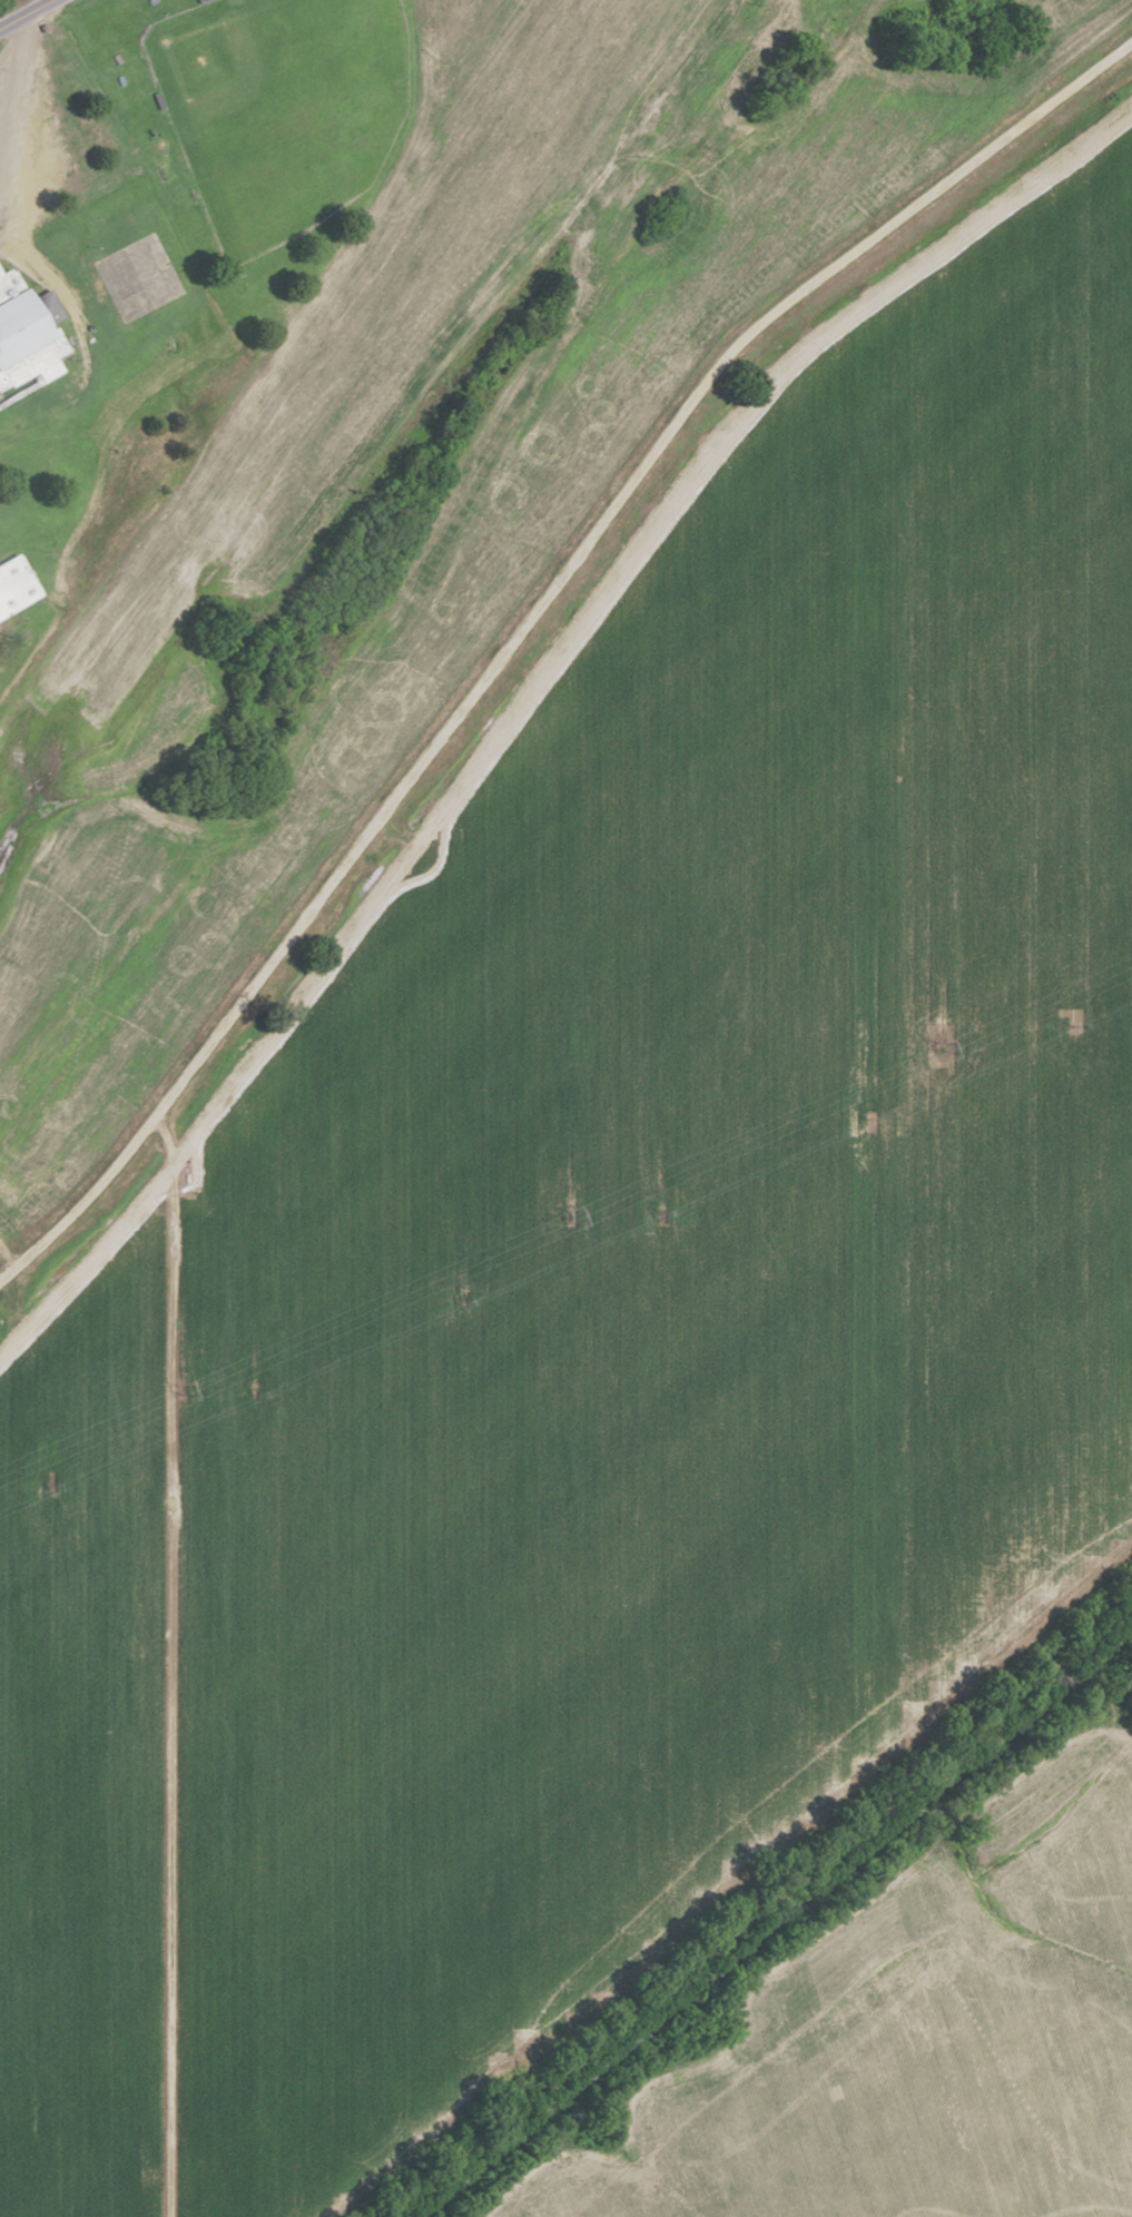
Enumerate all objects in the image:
road: (24, 13)
road: (8, 79)
parking lot: (3, 95)
road: (11, 101)
park: (278, 108)
road: (705, 158)
road: (26, 273)
building: (27, 332)
road: (18, 392)
road: (595, 529)
building: (14, 584)
road: (83, 1200)
road: (167, 1663)

